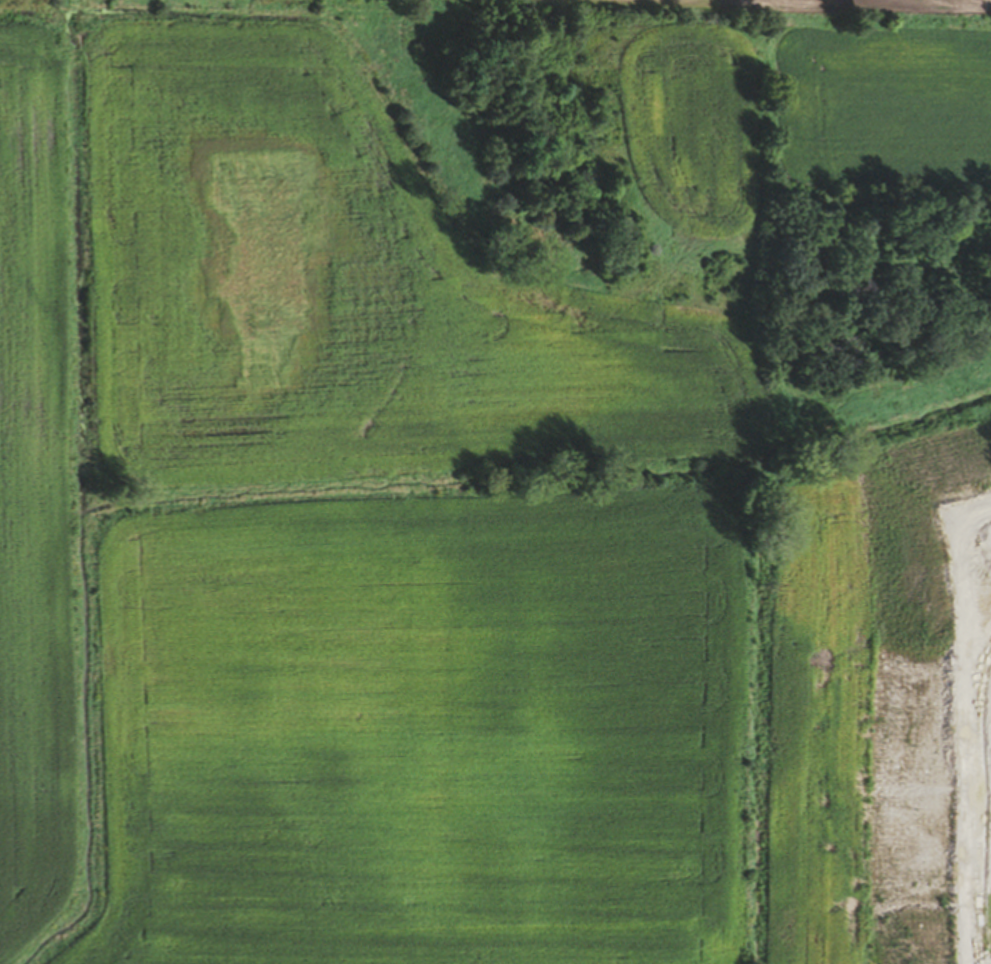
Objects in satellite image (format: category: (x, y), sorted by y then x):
quarry: (971, 935)

